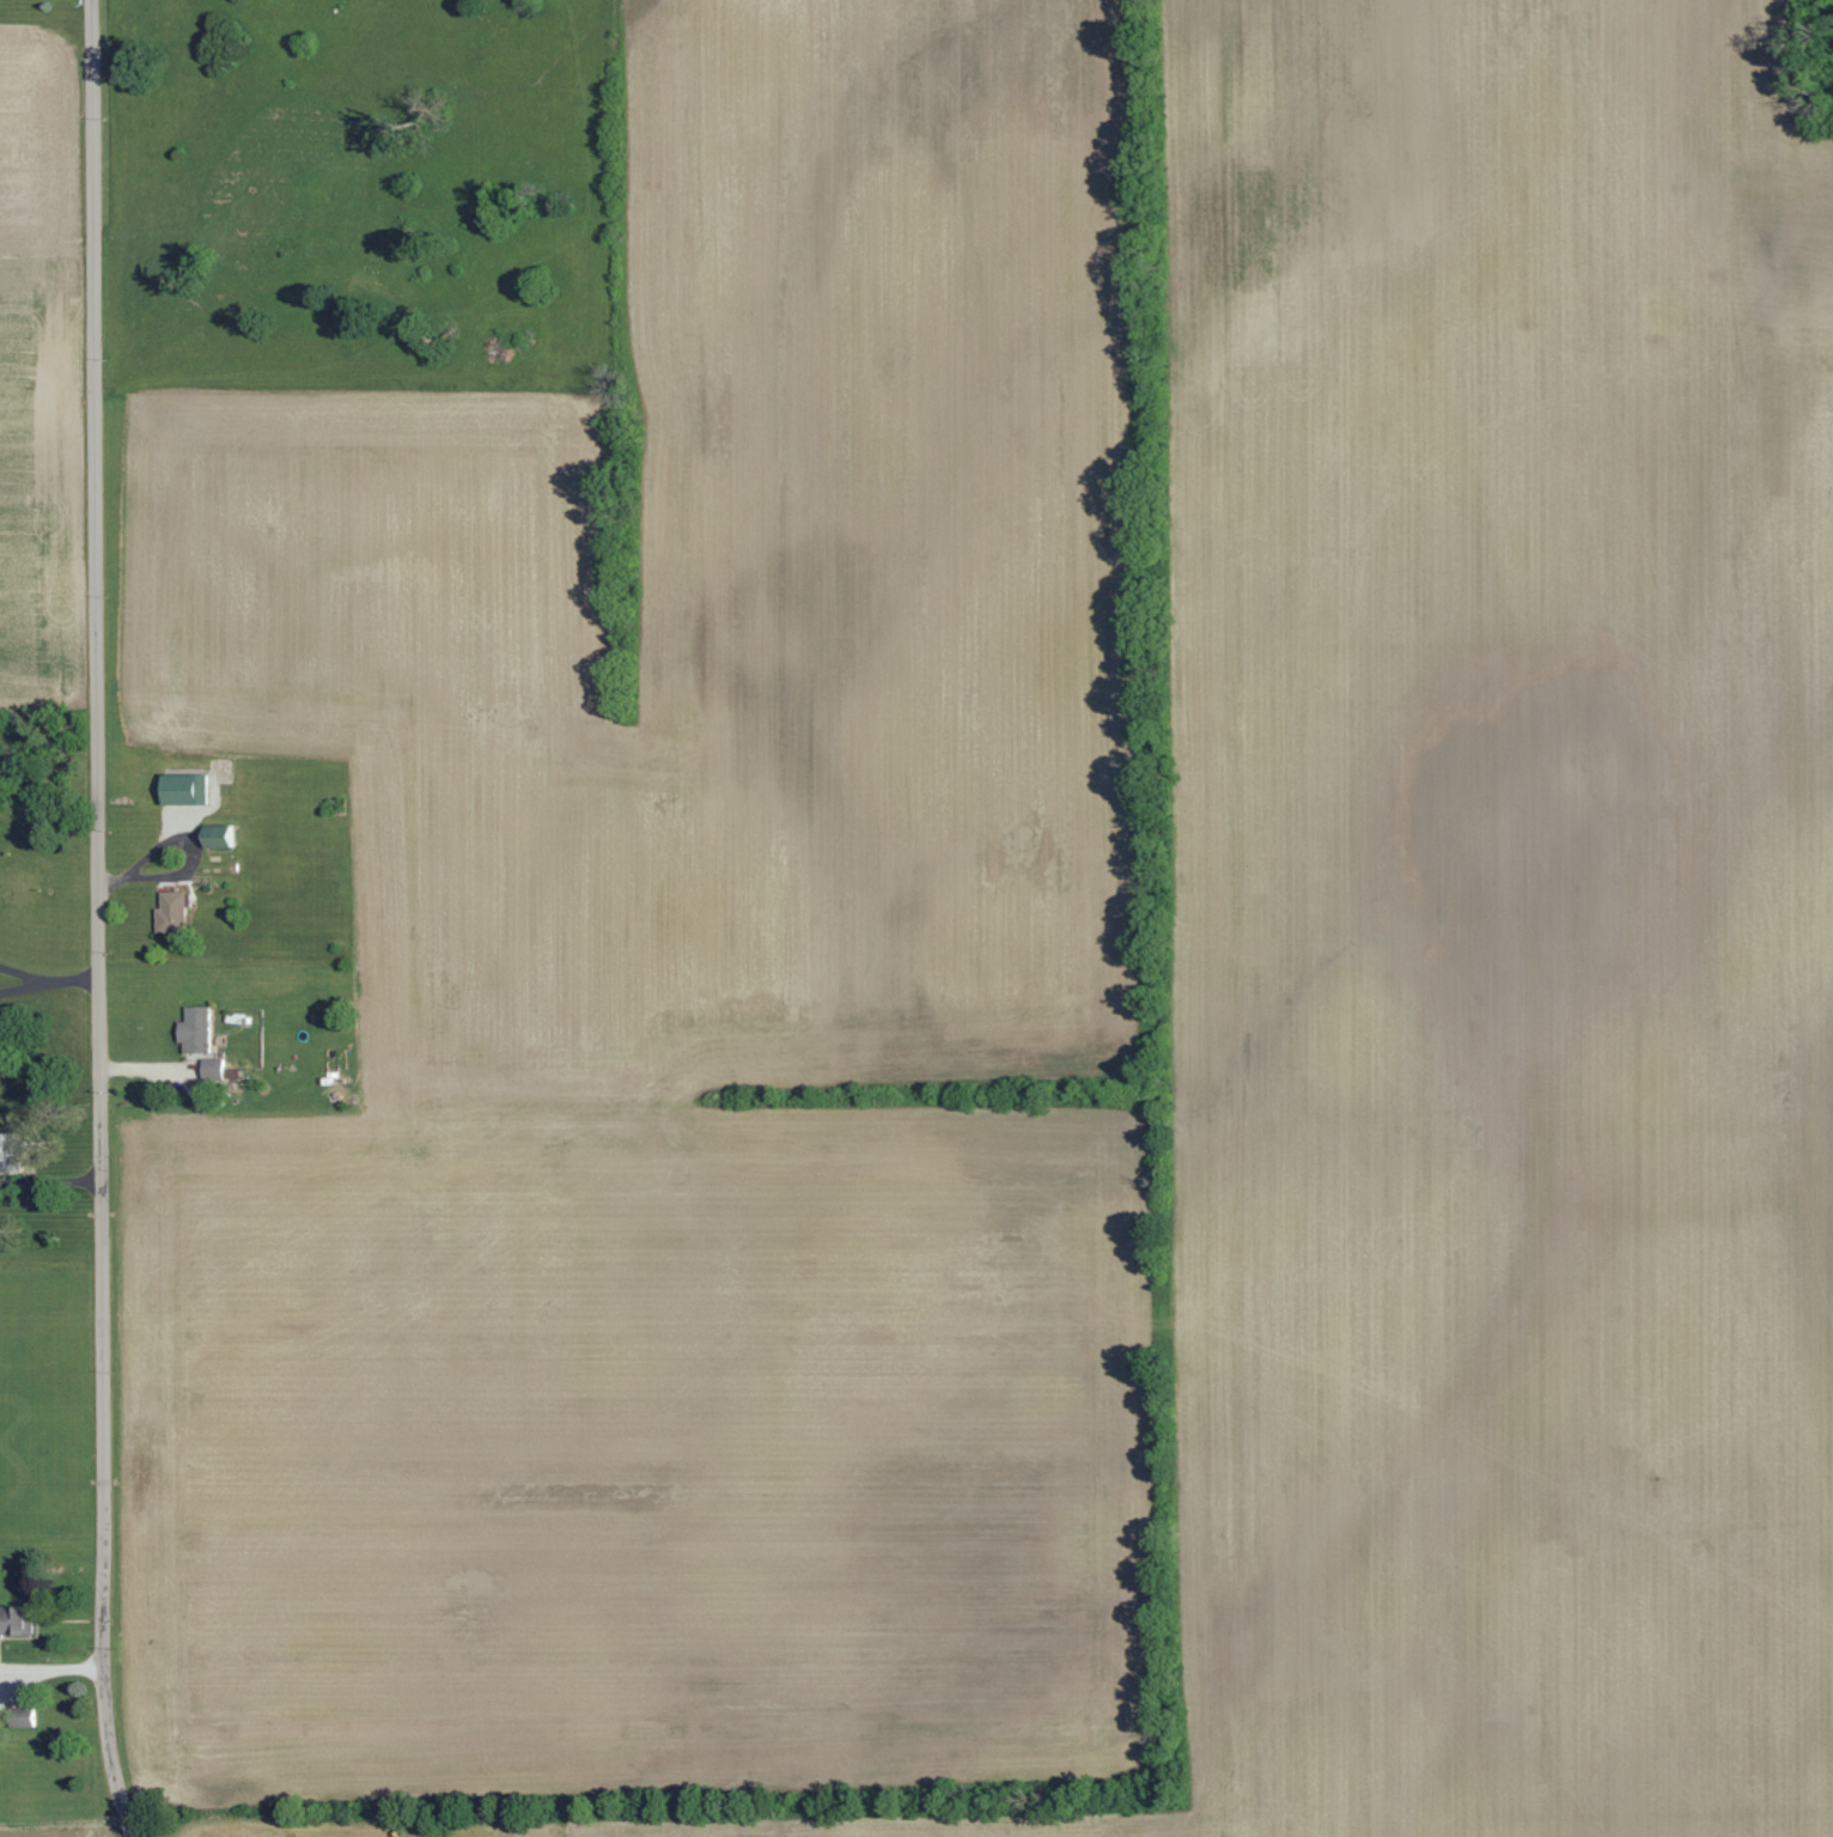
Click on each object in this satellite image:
building: (181, 789)
building: (215, 837)
building: (171, 912)
road: (97, 917)
road: (22, 975)
road: (71, 979)
road: (22, 987)
building: (194, 1030)
building: (1, 1146)
building: (13, 1623)
road: (51, 1668)
building: (24, 1719)
road: (129, 1833)

